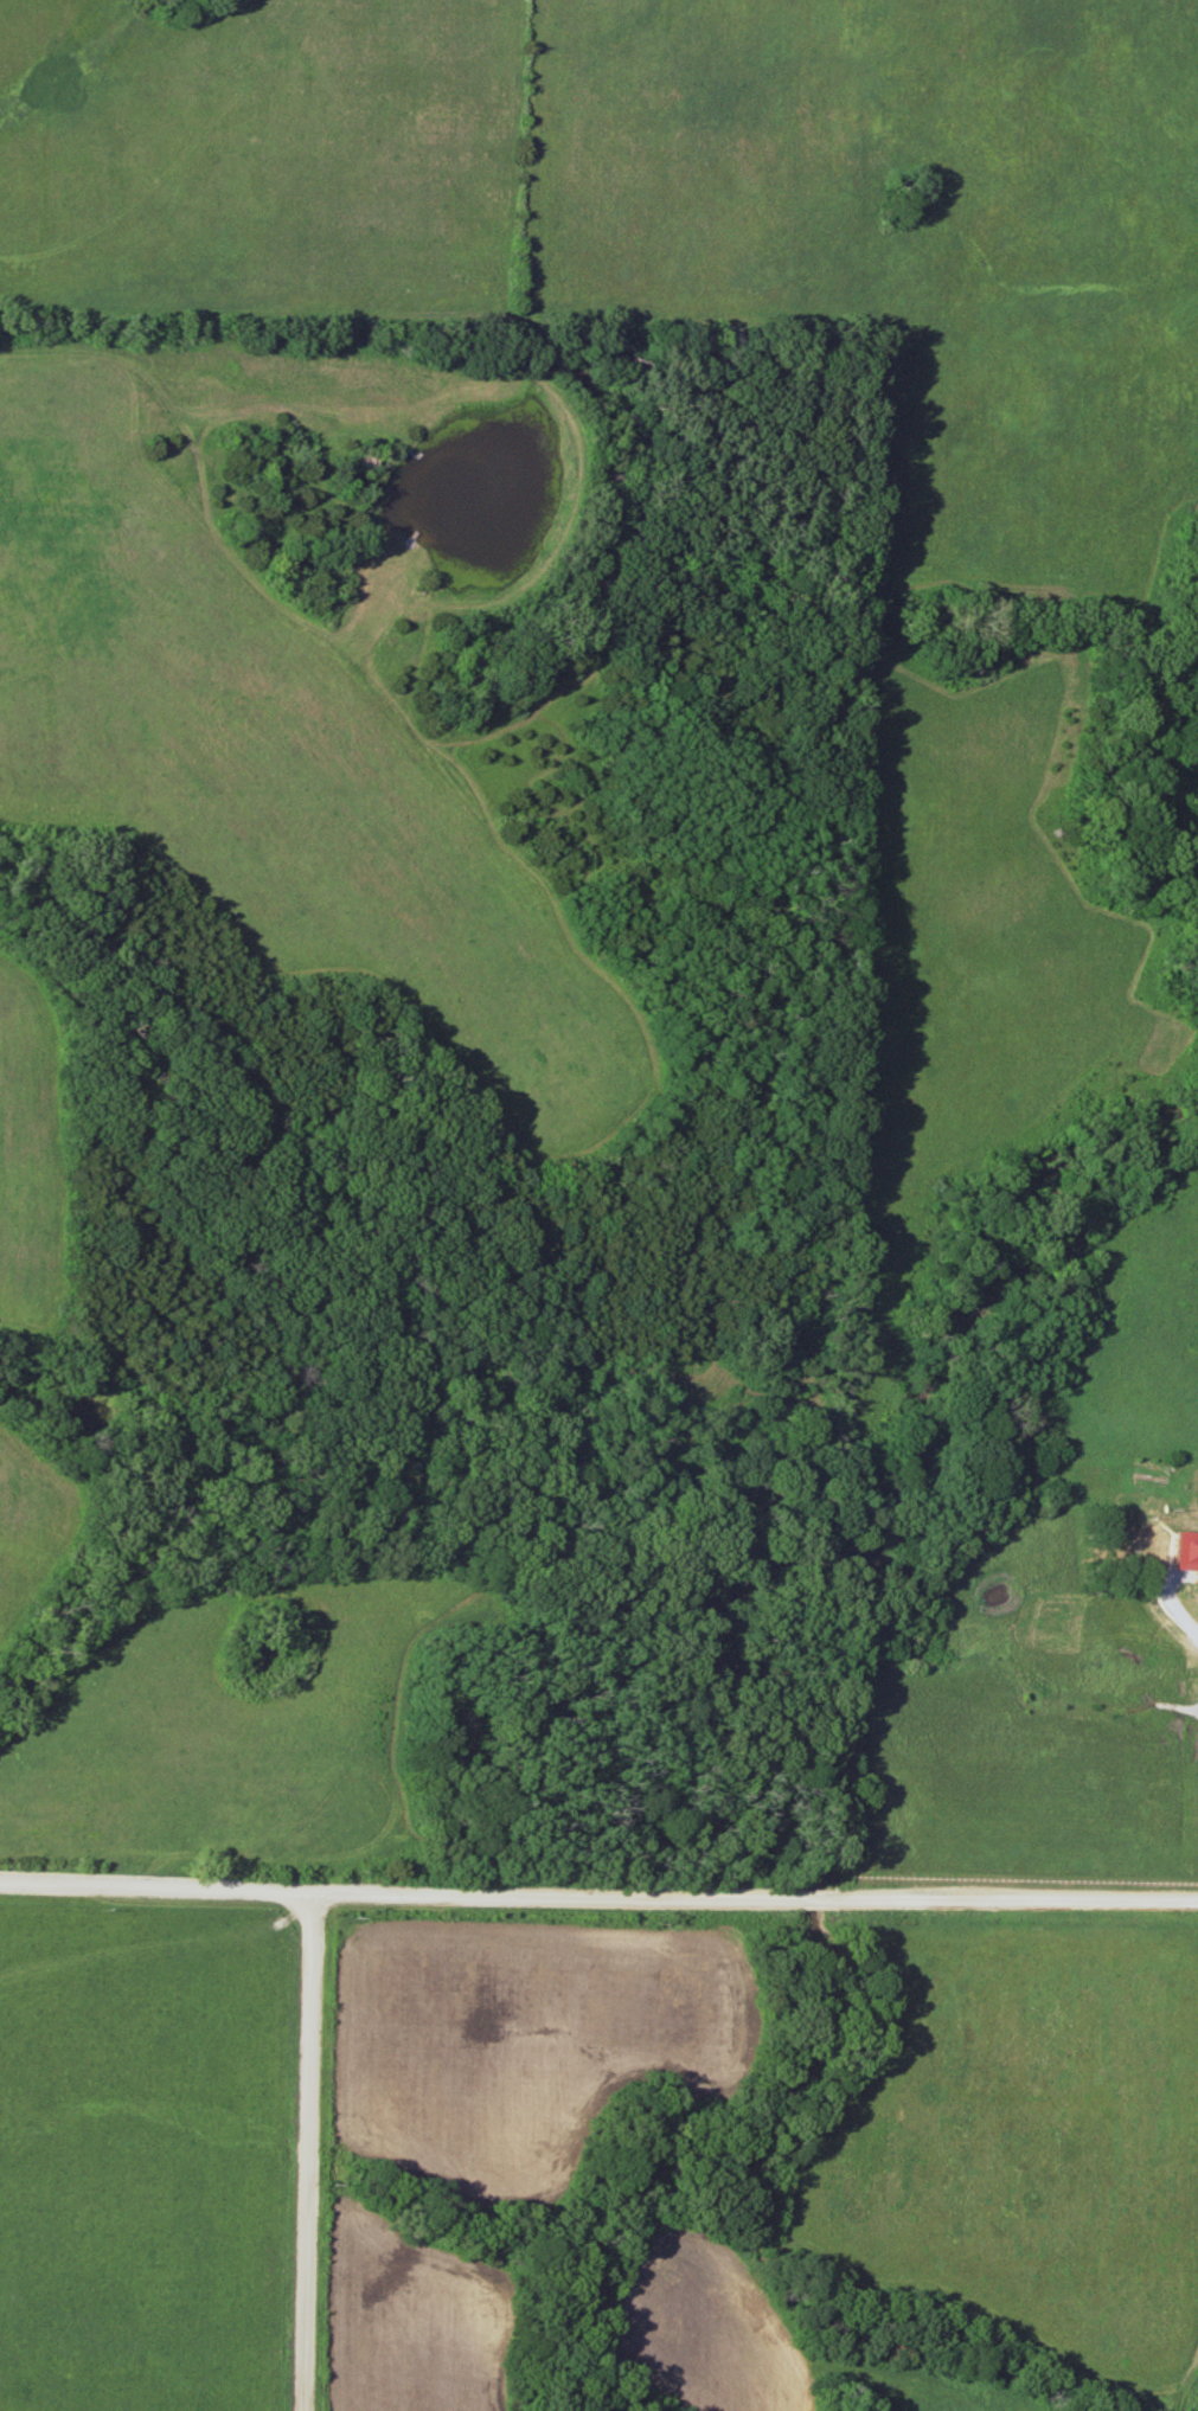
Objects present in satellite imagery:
building: (1098, 1676)
road: (598, 1898)
road: (312, 2153)

